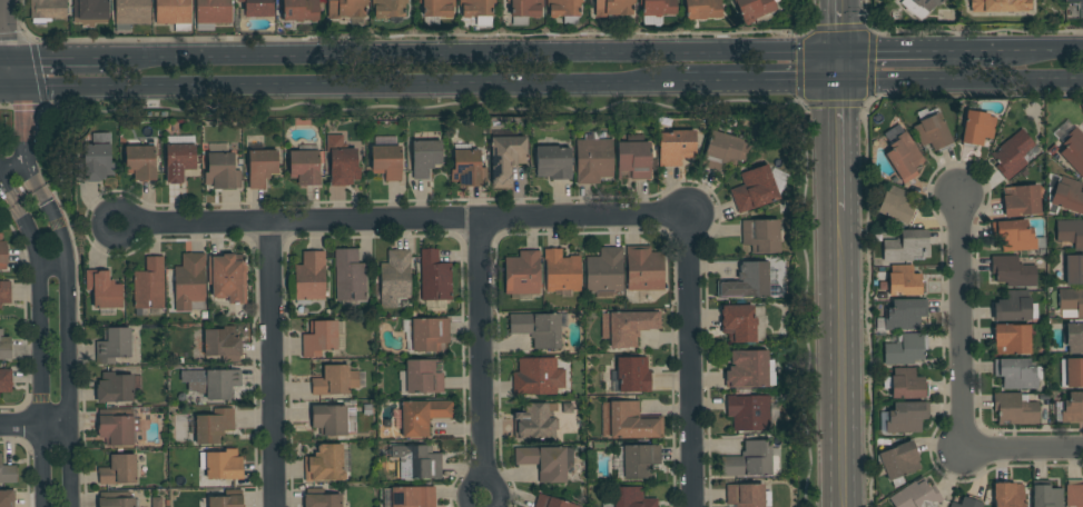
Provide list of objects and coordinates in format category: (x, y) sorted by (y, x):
building: (1000, 6)
building: (613, 7)
building: (919, 7)
building: (257, 8)
building: (346, 8)
building: (476, 8)
building: (564, 8)
building: (657, 8)
building: (702, 9)
building: (47, 10)
building: (302, 10)
building: (390, 10)
building: (436, 10)
building: (524, 10)
building: (755, 10)
building: (90, 12)
building: (131, 13)
building: (174, 13)
building: (213, 13)
road: (869, 13)
traffic signals: (837, 17)
road: (837, 26)
traffic signals: (2, 27)
road: (873, 28)
road: (977, 31)
road: (2, 46)
road: (1042, 49)
road: (918, 50)
traffic signals: (883, 51)
road: (470, 52)
road: (1, 53)
traffic signals: (46, 53)
road: (52, 53)
road: (837, 67)
road: (41, 79)
road: (959, 81)
road: (758, 83)
traffic signals: (791, 83)
road: (341, 89)
road: (0, 93)
road: (0, 93)
traffic signals: (837, 108)
traffic signals: (26, 117)
building: (977, 128)
building: (933, 132)
road: (27, 133)
building: (676, 147)
road: (838, 147)
building: (723, 150)
building: (1073, 150)
building: (1012, 155)
building: (425, 157)
building: (634, 157)
building: (904, 157)
building: (506, 158)
building: (593, 160)
building: (179, 161)
building: (342, 161)
building: (386, 161)
building: (95, 162)
building: (141, 162)
building: (553, 162)
road: (14, 167)
building: (262, 167)
building: (305, 167)
building: (467, 169)
building: (223, 171)
road: (8, 187)
building: (755, 189)
building: (1067, 195)
building: (1021, 200)
building: (897, 205)
road: (408, 219)
road: (100, 227)
building: (1071, 232)
building: (1014, 235)
building: (761, 236)
building: (906, 246)
building: (3, 254)
building: (644, 268)
building: (1074, 269)
road: (52, 270)
building: (606, 270)
building: (562, 271)
building: (1013, 271)
building: (522, 274)
building: (348, 276)
building: (228, 277)
building: (311, 277)
building: (434, 277)
building: (395, 278)
building: (746, 281)
building: (905, 281)
building: (190, 282)
building: (149, 286)
building: (104, 289)
building: (4, 292)
building: (1071, 302)
building: (1015, 307)
building: (905, 315)
road: (962, 320)
building: (738, 324)
building: (628, 327)
building: (538, 328)
building: (429, 335)
building: (1073, 336)
building: (319, 338)
building: (1012, 339)
road: (71, 342)
building: (223, 344)
building: (4, 346)
building: (114, 346)
building: (905, 348)
road: (41, 350)
road: (480, 351)
road: (844, 358)
road: (688, 361)
road: (270, 365)
building: (750, 369)
building: (1071, 372)
building: (1017, 374)
building: (632, 375)
building: (423, 377)
building: (535, 377)
building: (6, 380)
building: (335, 380)
building: (217, 384)
building: (907, 385)
building: (115, 388)
building: (1015, 408)
building: (1072, 408)
building: (752, 412)
building: (422, 416)
building: (906, 417)
building: (332, 421)
building: (534, 421)
building: (632, 421)
building: (214, 426)
building: (117, 427)
road: (36, 428)
road: (1023, 448)
building: (640, 460)
building: (749, 460)
building: (544, 461)
building: (420, 463)
building: (899, 463)
building: (325, 464)
building: (221, 465)
building: (119, 470)
building: (8, 473)
road: (482, 484)
building: (1074, 494)
building: (1008, 495)
building: (1046, 495)
building: (748, 496)
building: (916, 496)
building: (413, 497)
building: (631, 497)
building: (321, 498)
building: (116, 499)
building: (7, 500)
building: (224, 500)
building: (156, 501)
building: (551, 503)
building: (968, 503)

